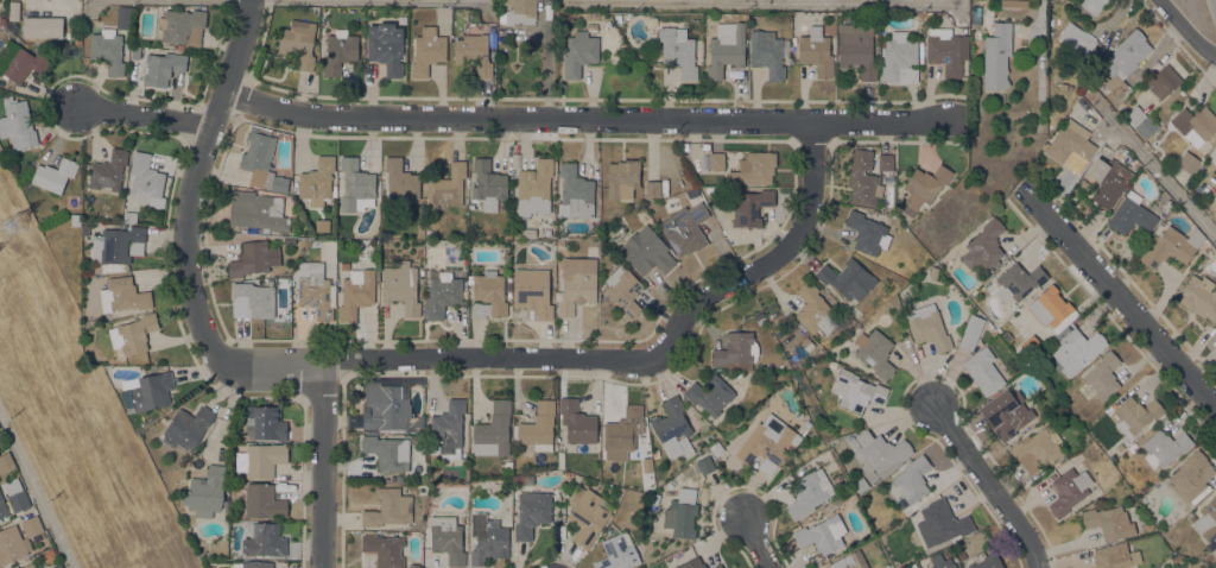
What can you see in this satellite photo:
building: (1013, 2)
road: (761, 4)
building: (1094, 5)
building: (13, 11)
building: (520, 12)
building: (975, 14)
building: (927, 15)
building: (122, 17)
building: (76, 19)
building: (182, 26)
building: (591, 26)
building: (42, 27)
building: (76, 27)
road: (1185, 29)
building: (77, 37)
building: (1076, 38)
building: (298, 42)
building: (386, 46)
building: (726, 49)
building: (856, 49)
building: (107, 50)
building: (427, 50)
building: (678, 50)
building: (946, 50)
building: (338, 51)
building: (816, 51)
building: (135, 52)
building: (474, 52)
building: (579, 52)
building: (767, 53)
building: (996, 56)
building: (900, 58)
building: (1122, 62)
building: (24, 64)
building: (161, 68)
building: (1163, 81)
road: (145, 118)
road: (584, 119)
building: (1141, 121)
building: (17, 124)
building: (1195, 124)
building: (1071, 146)
building: (261, 159)
building: (716, 160)
road: (1153, 160)
building: (1187, 162)
building: (885, 163)
building: (754, 168)
building: (108, 170)
building: (55, 173)
building: (145, 177)
building: (622, 178)
building: (863, 179)
building: (1108, 179)
road: (196, 181)
building: (400, 181)
building: (316, 182)
building: (355, 183)
building: (488, 184)
building: (446, 185)
building: (534, 187)
building: (652, 188)
building: (923, 188)
building: (691, 191)
building: (575, 193)
building: (747, 206)
building: (1166, 206)
building: (260, 210)
building: (129, 216)
building: (1130, 216)
building: (75, 220)
building: (348, 222)
power tower: (14, 225)
building: (84, 226)
building: (685, 228)
building: (528, 233)
building: (867, 233)
building: (560, 241)
building: (118, 244)
building: (983, 246)
building: (1171, 247)
building: (646, 251)
building: (249, 259)
building: (933, 272)
building: (95, 278)
building: (848, 278)
building: (1019, 280)
building: (577, 283)
building: (401, 286)
building: (532, 290)
building: (623, 290)
building: (317, 291)
building: (356, 292)
building: (441, 292)
building: (487, 294)
building: (123, 295)
building: (1199, 297)
building: (252, 299)
road: (1123, 304)
building: (1052, 309)
building: (816, 310)
building: (759, 316)
building: (929, 326)
building: (970, 332)
building: (137, 333)
building: (1007, 336)
building: (1031, 343)
building: (806, 345)
building: (1075, 349)
building: (736, 351)
building: (878, 354)
road: (591, 359)
building: (832, 364)
building: (983, 371)
building: (1103, 375)
building: (856, 390)
building: (152, 391)
building: (710, 395)
building: (386, 408)
building: (1006, 414)
building: (1135, 414)
building: (264, 422)
building: (576, 422)
building: (806, 424)
building: (538, 427)
building: (186, 428)
building: (449, 428)
building: (673, 428)
building: (623, 429)
building: (493, 430)
building: (767, 443)
building: (1165, 447)
building: (716, 448)
building: (1132, 448)
building: (1037, 449)
building: (878, 450)
building: (388, 454)
building: (260, 459)
building: (606, 459)
building: (6, 462)
road: (324, 463)
building: (508, 465)
building: (705, 465)
building: (1191, 475)
building: (912, 479)
building: (860, 484)
road: (990, 485)
building: (1069, 491)
building: (205, 492)
building: (809, 492)
road: (34, 496)
building: (654, 498)
building: (264, 501)
building: (13, 503)
building: (388, 507)
building: (532, 512)
building: (682, 513)
building: (587, 516)
building: (1206, 519)
building: (942, 522)
building: (1109, 522)
building: (822, 535)
building: (448, 538)
building: (19, 539)
building: (264, 539)
building: (488, 539)
power tower: (887, 539)
road: (755, 542)
building: (384, 549)
building: (617, 553)
building: (50, 555)
building: (962, 556)
building: (1115, 556)
building: (1212, 556)
building: (849, 561)
building: (942, 561)
building: (984, 561)
building: (691, 563)
building: (253, 564)
building: (28, 566)
building: (58, 566)
building: (717, 566)

